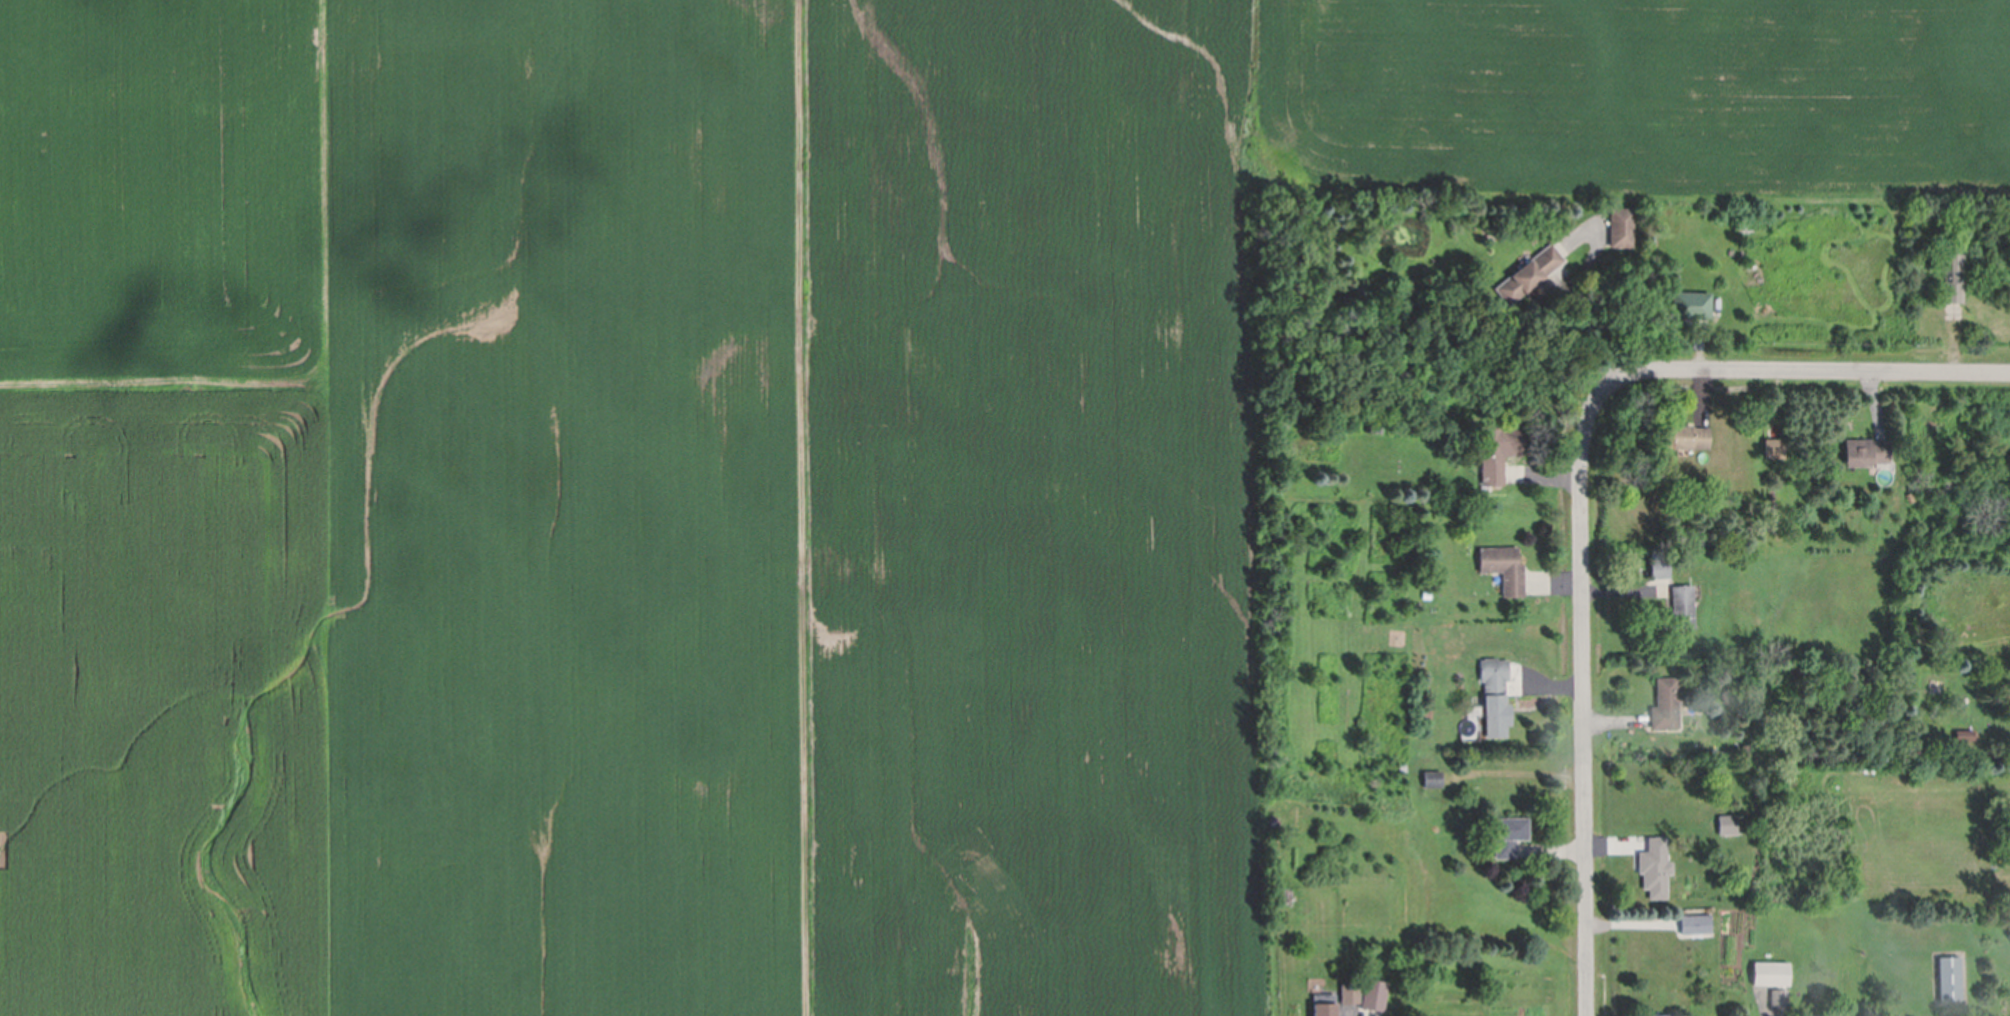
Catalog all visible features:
building: (1619, 227)
building: (1527, 275)
building: (1953, 279)
building: (1691, 306)
road: (1586, 324)
road: (1951, 338)
road: (1698, 345)
road: (1797, 372)
road: (1700, 399)
road: (1773, 405)
building: (1374, 424)
building: (1687, 437)
building: (1774, 449)
building: (1497, 450)
building: (1866, 455)
building: (1517, 475)
road: (1542, 477)
building: (1502, 568)
building: (1660, 569)
road: (1552, 584)
road: (1618, 592)
building: (1683, 608)
building: (1493, 676)
road: (1544, 689)
building: (1667, 703)
road: (1583, 708)
building: (1497, 716)
road: (1617, 723)
building: (1403, 770)
building: (1433, 782)
building: (1728, 827)
building: (1508, 836)
road: (1614, 846)
road: (1549, 851)
building: (1655, 867)
road: (1632, 923)
building: (1695, 927)
building: (1771, 978)
building: (1950, 983)
building: (1350, 998)
building: (1373, 1000)
building: (1778, 1003)
building: (1324, 1007)
building: (1657, 1015)

